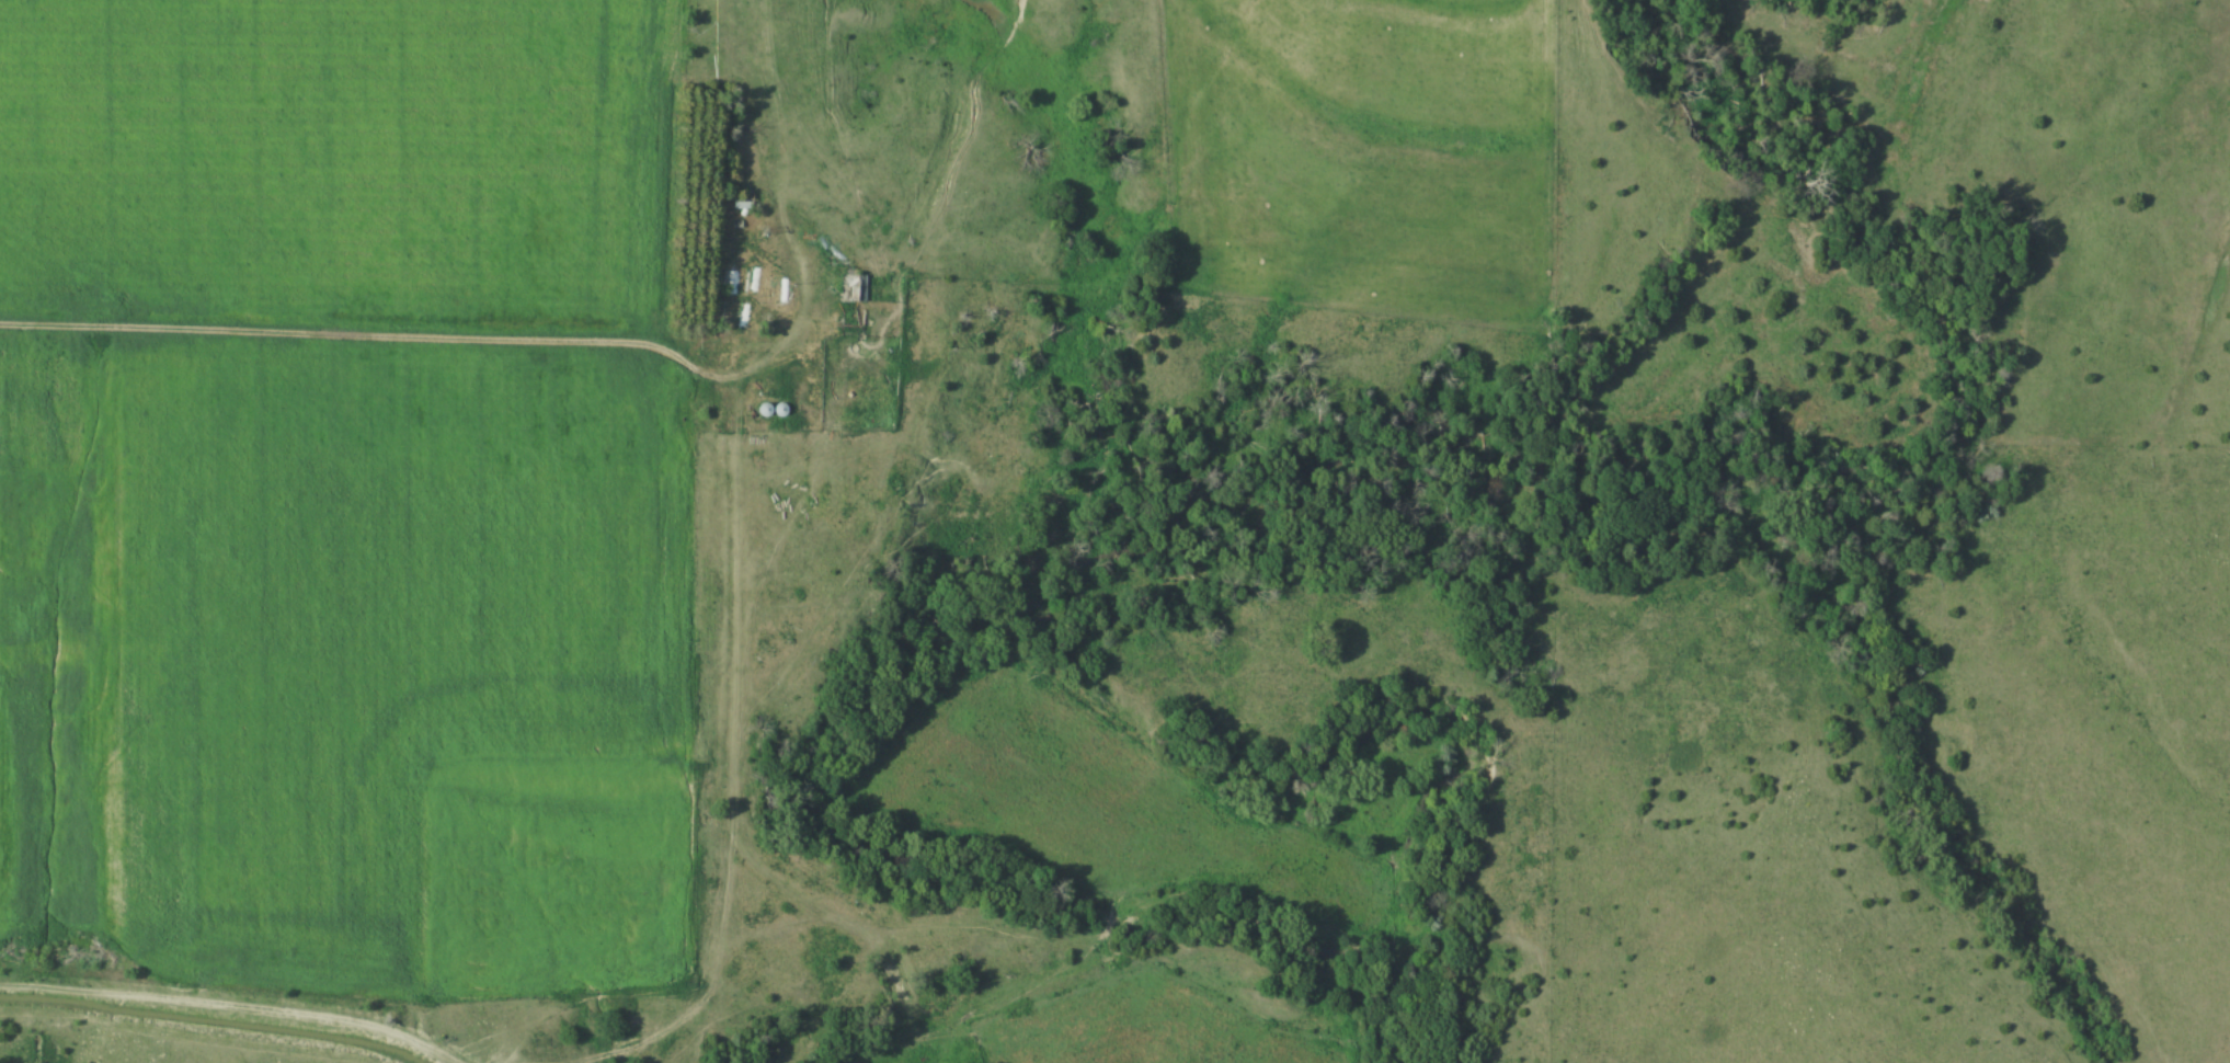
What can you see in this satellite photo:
building: (857, 289)
road: (371, 334)
building: (768, 412)

